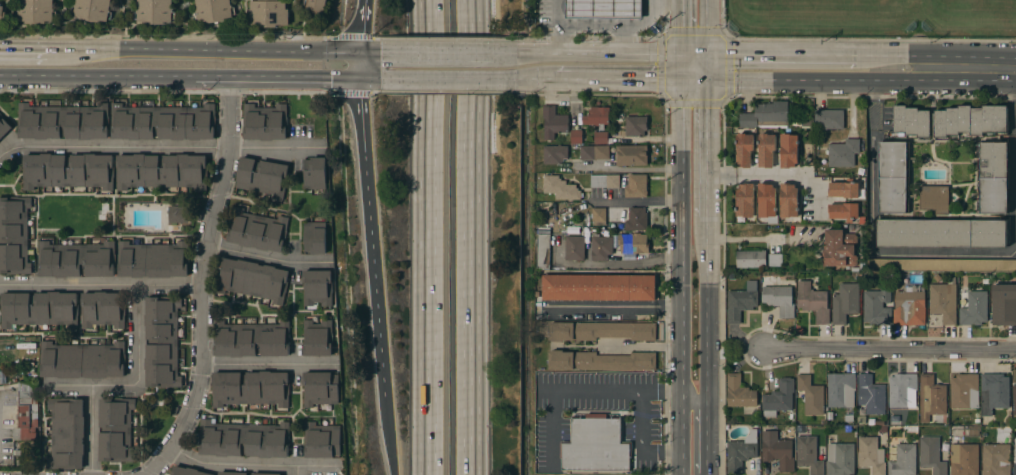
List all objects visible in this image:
road: (652, 3)
building: (316, 6)
building: (603, 9)
building: (92, 10)
building: (213, 10)
building: (36, 11)
building: (155, 11)
building: (268, 13)
building: (2, 16)
road: (644, 22)
road: (590, 25)
road: (360, 26)
road: (554, 26)
road: (680, 27)
road: (707, 27)
road: (23, 49)
road: (213, 50)
traffic signals: (358, 52)
road: (436, 52)
road: (507, 52)
road: (601, 53)
traffic signals: (680, 54)
road: (693, 54)
traffic signals: (707, 54)
road: (781, 55)
road: (889, 56)
road: (357, 65)
road: (707, 67)
road: (966, 70)
road: (97, 76)
road: (275, 77)
traffic signals: (357, 78)
road: (369, 78)
road: (452, 79)
road: (539, 79)
road: (618, 80)
traffic signals: (680, 80)
road: (693, 80)
traffic signals: (707, 80)
road: (814, 80)
road: (473, 101)
road: (479, 101)
building: (766, 115)
building: (596, 116)
building: (829, 119)
building: (970, 120)
building: (912, 121)
building: (63, 122)
building: (162, 122)
building: (265, 122)
building: (553, 122)
building: (807, 123)
building: (636, 125)
building: (4, 127)
building: (588, 137)
road: (160, 148)
road: (707, 148)
building: (744, 149)
building: (766, 150)
building: (788, 150)
building: (594, 152)
building: (554, 154)
building: (844, 154)
building: (631, 155)
road: (1013, 162)
road: (872, 167)
road: (630, 169)
building: (68, 171)
building: (161, 171)
building: (315, 173)
road: (774, 176)
building: (262, 177)
building: (894, 177)
building: (993, 177)
building: (604, 181)
building: (636, 185)
building: (560, 188)
building: (844, 189)
building: (935, 199)
building: (745, 200)
building: (766, 200)
building: (788, 200)
road: (636, 202)
building: (844, 211)
building: (179, 214)
building: (598, 217)
building: (636, 219)
building: (257, 230)
building: (941, 233)
building: (14, 234)
road: (370, 236)
building: (315, 237)
road: (425, 237)
building: (633, 243)
building: (543, 245)
building: (574, 248)
building: (601, 248)
building: (839, 248)
road: (943, 253)
road: (268, 258)
building: (76, 259)
building: (153, 259)
building: (751, 259)
building: (774, 260)
road: (623, 264)
road: (680, 264)
building: (939, 265)
building: (251, 279)
road: (201, 283)
road: (100, 285)
building: (318, 287)
building: (599, 287)
building: (778, 298)
building: (741, 301)
building: (813, 301)
building: (944, 301)
building: (845, 302)
building: (1004, 304)
building: (877, 306)
building: (909, 306)
building: (972, 306)
road: (614, 307)
building: (39, 309)
building: (102, 309)
building: (601, 331)
building: (318, 338)
road: (472, 338)
building: (250, 339)
building: (162, 342)
road: (639, 346)
road: (707, 346)
road: (892, 350)
road: (138, 359)
building: (82, 360)
building: (601, 361)
road: (270, 365)
building: (250, 388)
building: (320, 388)
building: (841, 389)
road: (578, 391)
building: (902, 391)
building: (964, 391)
building: (739, 392)
building: (994, 393)
building: (811, 395)
building: (871, 395)
building: (779, 397)
building: (931, 397)
building: (1014, 400)
road: (91, 405)
building: (27, 410)
building: (849, 418)
building: (880, 423)
road: (696, 428)
building: (116, 429)
building: (910, 429)
building: (881, 430)
building: (66, 433)
road: (388, 435)
building: (243, 439)
building: (321, 440)
road: (640, 443)
building: (595, 445)
building: (777, 450)
building: (741, 452)
building: (809, 454)
building: (870, 455)
building: (931, 455)
building: (996, 457)
building: (1014, 458)
building: (840, 459)
building: (902, 459)
building: (964, 459)
road: (250, 465)
road: (297, 470)
building: (187, 471)
building: (244, 473)

